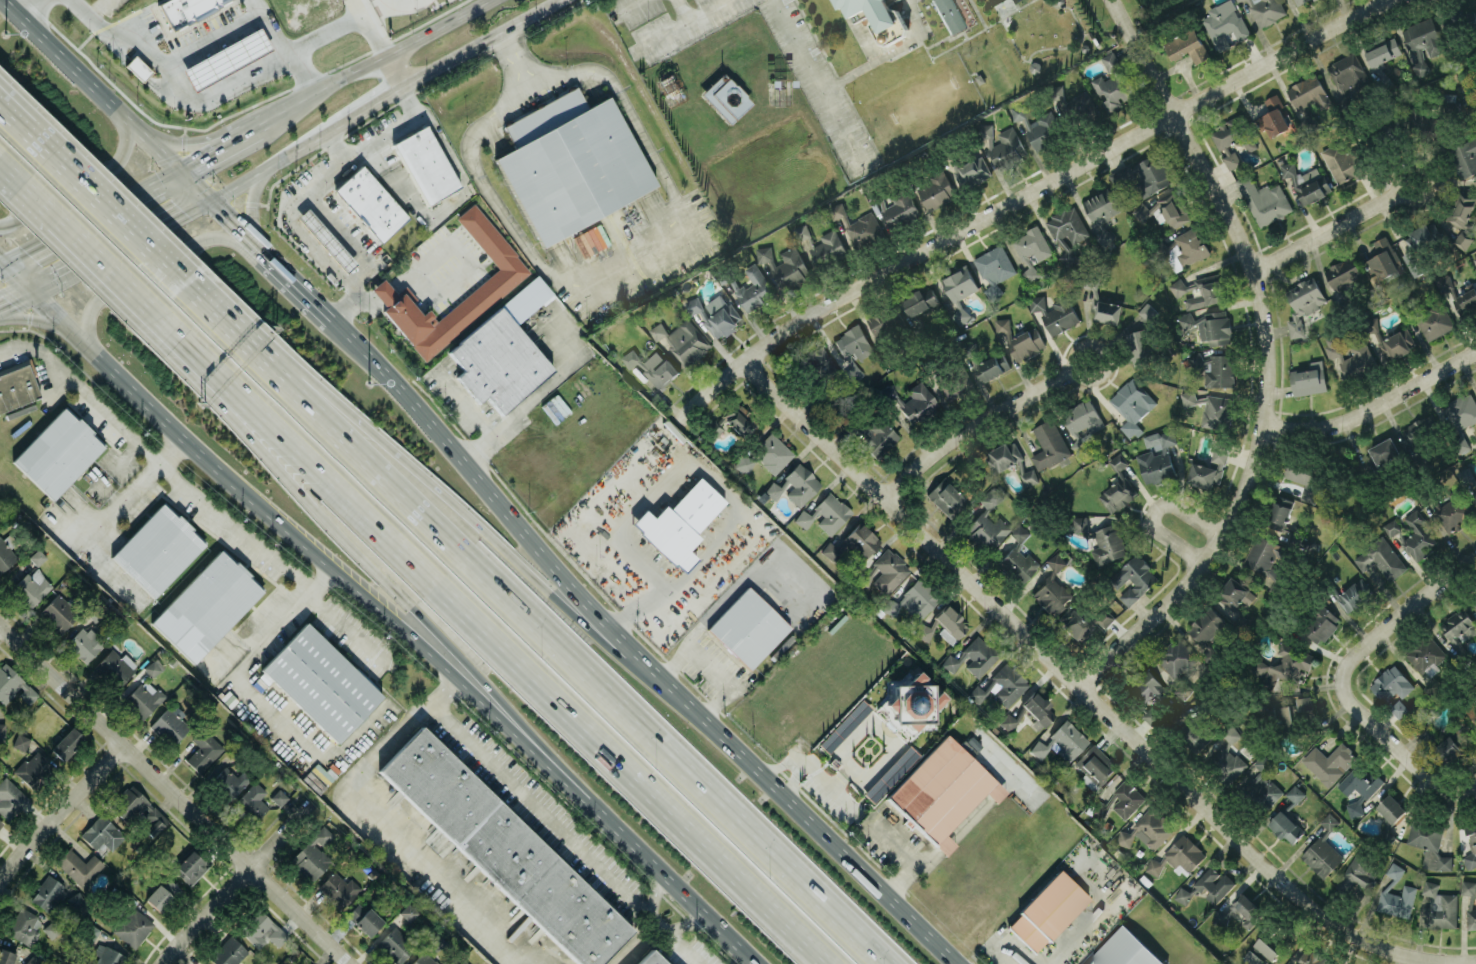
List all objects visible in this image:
building: (1240, 0)
building: (1299, 1)
road: (375, 8)
building: (186, 9)
road: (355, 9)
road: (625, 9)
road: (40, 10)
road: (684, 10)
building: (1266, 10)
building: (873, 12)
building: (954, 14)
building: (1225, 24)
road: (681, 25)
building: (1423, 36)
road: (479, 43)
building: (1188, 47)
road: (510, 51)
building: (1382, 54)
building: (226, 58)
building: (1420, 64)
road: (306, 69)
road: (393, 72)
building: (1348, 73)
road: (224, 83)
building: (1113, 83)
road: (819, 86)
building: (1308, 94)
building: (725, 97)
road: (369, 105)
building: (1074, 107)
road: (260, 111)
building: (1018, 113)
building: (1275, 117)
building: (1428, 121)
road: (138, 125)
road: (243, 130)
building: (1044, 130)
building: (1232, 133)
road: (167, 137)
road: (65, 144)
road: (335, 145)
building: (1007, 147)
road: (64, 155)
building: (1231, 157)
building: (1464, 158)
road: (275, 160)
building: (569, 163)
building: (1342, 163)
traffic signals: (182, 164)
building: (424, 165)
building: (973, 172)
building: (1143, 176)
road: (91, 180)
building: (1307, 182)
road: (1397, 182)
building: (936, 190)
road: (304, 191)
road: (459, 195)
road: (1024, 195)
traffic signals: (213, 197)
building: (1264, 200)
road: (251, 201)
building: (369, 204)
building: (900, 209)
building: (1173, 209)
building: (1102, 210)
building: (1141, 211)
building: (1460, 211)
building: (857, 224)
building: (1067, 231)
road: (1328, 231)
building: (802, 232)
road: (344, 235)
building: (1464, 238)
building: (325, 240)
road: (78, 243)
building: (1191, 246)
building: (1420, 246)
building: (828, 248)
building: (1032, 249)
road: (166, 250)
building: (764, 253)
road: (107, 255)
road: (623, 258)
building: (1384, 258)
building: (1475, 259)
road: (156, 264)
building: (996, 264)
building: (792, 267)
building: (1343, 272)
road: (411, 277)
building: (499, 281)
road: (302, 282)
building: (960, 283)
building: (753, 289)
building: (1201, 290)
traffic signals: (38, 294)
building: (918, 301)
building: (1303, 303)
road: (346, 304)
building: (1106, 310)
building: (1148, 311)
building: (1055, 313)
building: (960, 315)
building: (715, 316)
building: (1434, 321)
building: (1183, 322)
building: (881, 323)
road: (46, 324)
building: (1214, 327)
road: (249, 331)
building: (684, 340)
building: (1020, 340)
building: (853, 342)
building: (1393, 343)
road: (1070, 355)
building: (631, 357)
road: (1266, 357)
building: (1352, 358)
building: (497, 361)
building: (820, 363)
building: (992, 367)
building: (1214, 368)
building: (661, 370)
building: (851, 371)
building: (1308, 378)
building: (955, 382)
building: (17, 385)
road: (539, 390)
road: (82, 391)
building: (1188, 397)
building: (916, 400)
building: (1132, 404)
road: (466, 405)
road: (1374, 406)
building: (1217, 412)
building: (1460, 415)
building: (732, 420)
building: (1082, 420)
road: (973, 426)
building: (1423, 428)
building: (876, 436)
building: (1049, 444)
building: (1384, 451)
building: (57, 452)
building: (773, 452)
building: (1004, 455)
building: (1219, 455)
building: (1158, 456)
building: (1119, 461)
building: (743, 462)
building: (1206, 473)
road: (666, 474)
building: (1030, 476)
building: (1470, 478)
building: (1305, 479)
building: (794, 485)
building: (1119, 493)
building: (944, 495)
road: (270, 511)
road: (463, 511)
road: (1153, 512)
building: (825, 513)
building: (1281, 513)
building: (1453, 513)
road: (105, 517)
building: (987, 521)
building: (678, 522)
road: (234, 523)
building: (1078, 523)
building: (1392, 526)
road: (522, 531)
building: (1419, 536)
road: (347, 540)
building: (852, 543)
building: (1108, 544)
building: (157, 548)
building: (6, 553)
building: (37, 556)
building: (1017, 556)
building: (1381, 558)
building: (1265, 560)
building: (888, 570)
road: (747, 578)
building: (1133, 579)
building: (31, 585)
building: (1052, 588)
building: (1236, 593)
road: (502, 594)
building: (1354, 595)
building: (913, 598)
building: (1475, 601)
building: (206, 604)
building: (58, 611)
building: (1104, 617)
building: (1242, 620)
building: (1073, 621)
building: (949, 623)
building: (1321, 625)
building: (1459, 626)
building: (747, 627)
road: (497, 638)
building: (86, 641)
road: (1365, 647)
building: (1426, 656)
building: (972, 657)
road: (710, 661)
building: (1178, 664)
building: (115, 665)
building: (1288, 665)
building: (152, 667)
building: (320, 681)
building: (1008, 683)
building: (13, 685)
building: (1392, 689)
building: (1152, 690)
building: (979, 691)
road: (1085, 693)
road: (252, 694)
building: (143, 697)
building: (911, 702)
building: (1305, 705)
building: (1037, 709)
building: (1472, 712)
building: (1152, 715)
building: (1282, 716)
building: (1007, 720)
building: (169, 724)
building: (844, 725)
building: (2, 730)
building: (1426, 733)
building: (1197, 739)
building: (20, 740)
building: (1061, 741)
building: (66, 742)
building: (203, 749)
building: (1449, 750)
building: (1229, 753)
building: (1329, 762)
building: (1095, 764)
building: (33, 767)
road: (813, 769)
building: (890, 773)
road: (795, 776)
building: (231, 779)
building: (1263, 781)
road: (1441, 782)
building: (1359, 787)
building: (941, 790)
building: (9, 794)
road: (175, 794)
building: (278, 796)
building: (1293, 797)
building: (252, 800)
building: (1125, 800)
building: (1391, 808)
building: (137, 809)
road: (60, 810)
road: (378, 821)
building: (1330, 821)
building: (0, 823)
building: (1286, 827)
building: (1149, 828)
road: (564, 832)
building: (104, 835)
road: (280, 836)
building: (1430, 845)
building: (1471, 845)
road: (844, 848)
road: (912, 851)
building: (312, 854)
building: (1178, 856)
building: (1322, 856)
road: (651, 860)
building: (79, 865)
building: (190, 865)
building: (1358, 873)
road: (802, 884)
building: (1214, 884)
building: (1468, 887)
building: (338, 888)
building: (162, 894)
road: (654, 894)
building: (1183, 894)
building: (54, 895)
building: (1396, 895)
building: (1439, 906)
building: (1245, 909)
building: (1044, 911)
building: (408, 912)
road: (205, 915)
building: (1221, 917)
building: (1472, 917)
building: (364, 918)
road: (681, 921)
building: (24, 926)
building: (132, 926)
building: (51, 928)
road: (1064, 929)
building: (262, 930)
road: (637, 943)
building: (394, 944)
building: (1123, 950)
building: (1262, 951)
building: (228, 952)
building: (6, 956)
building: (108, 956)
building: (650, 958)
building: (1312, 958)
building: (34, 959)
building: (423, 959)
road: (1470, 961)
building: (463, 962)
road: (835, 963)
road: (1465, 963)

